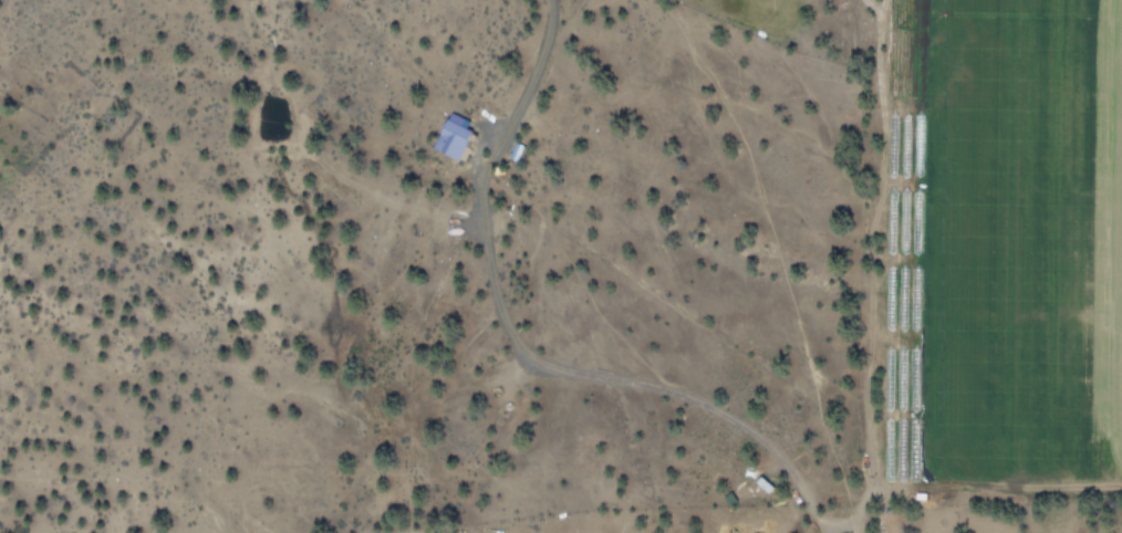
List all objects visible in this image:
building: (453, 137)

